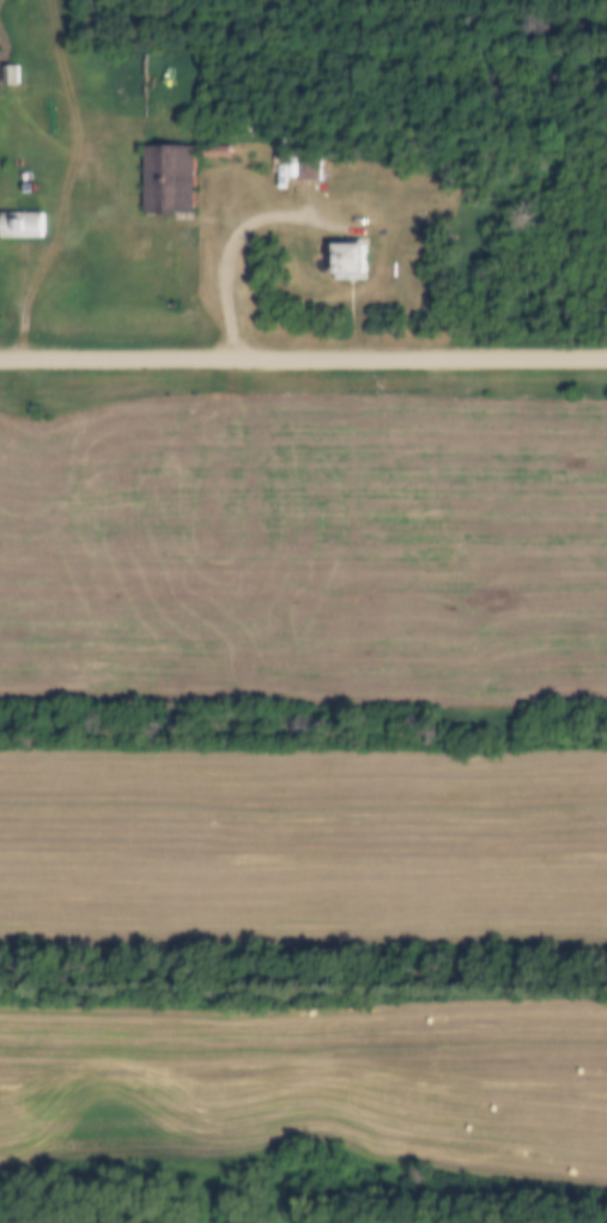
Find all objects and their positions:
building: (11, 75)
road: (95, 174)
building: (164, 181)
building: (22, 226)
road: (235, 237)
building: (344, 262)
road: (40, 267)
road: (303, 361)

